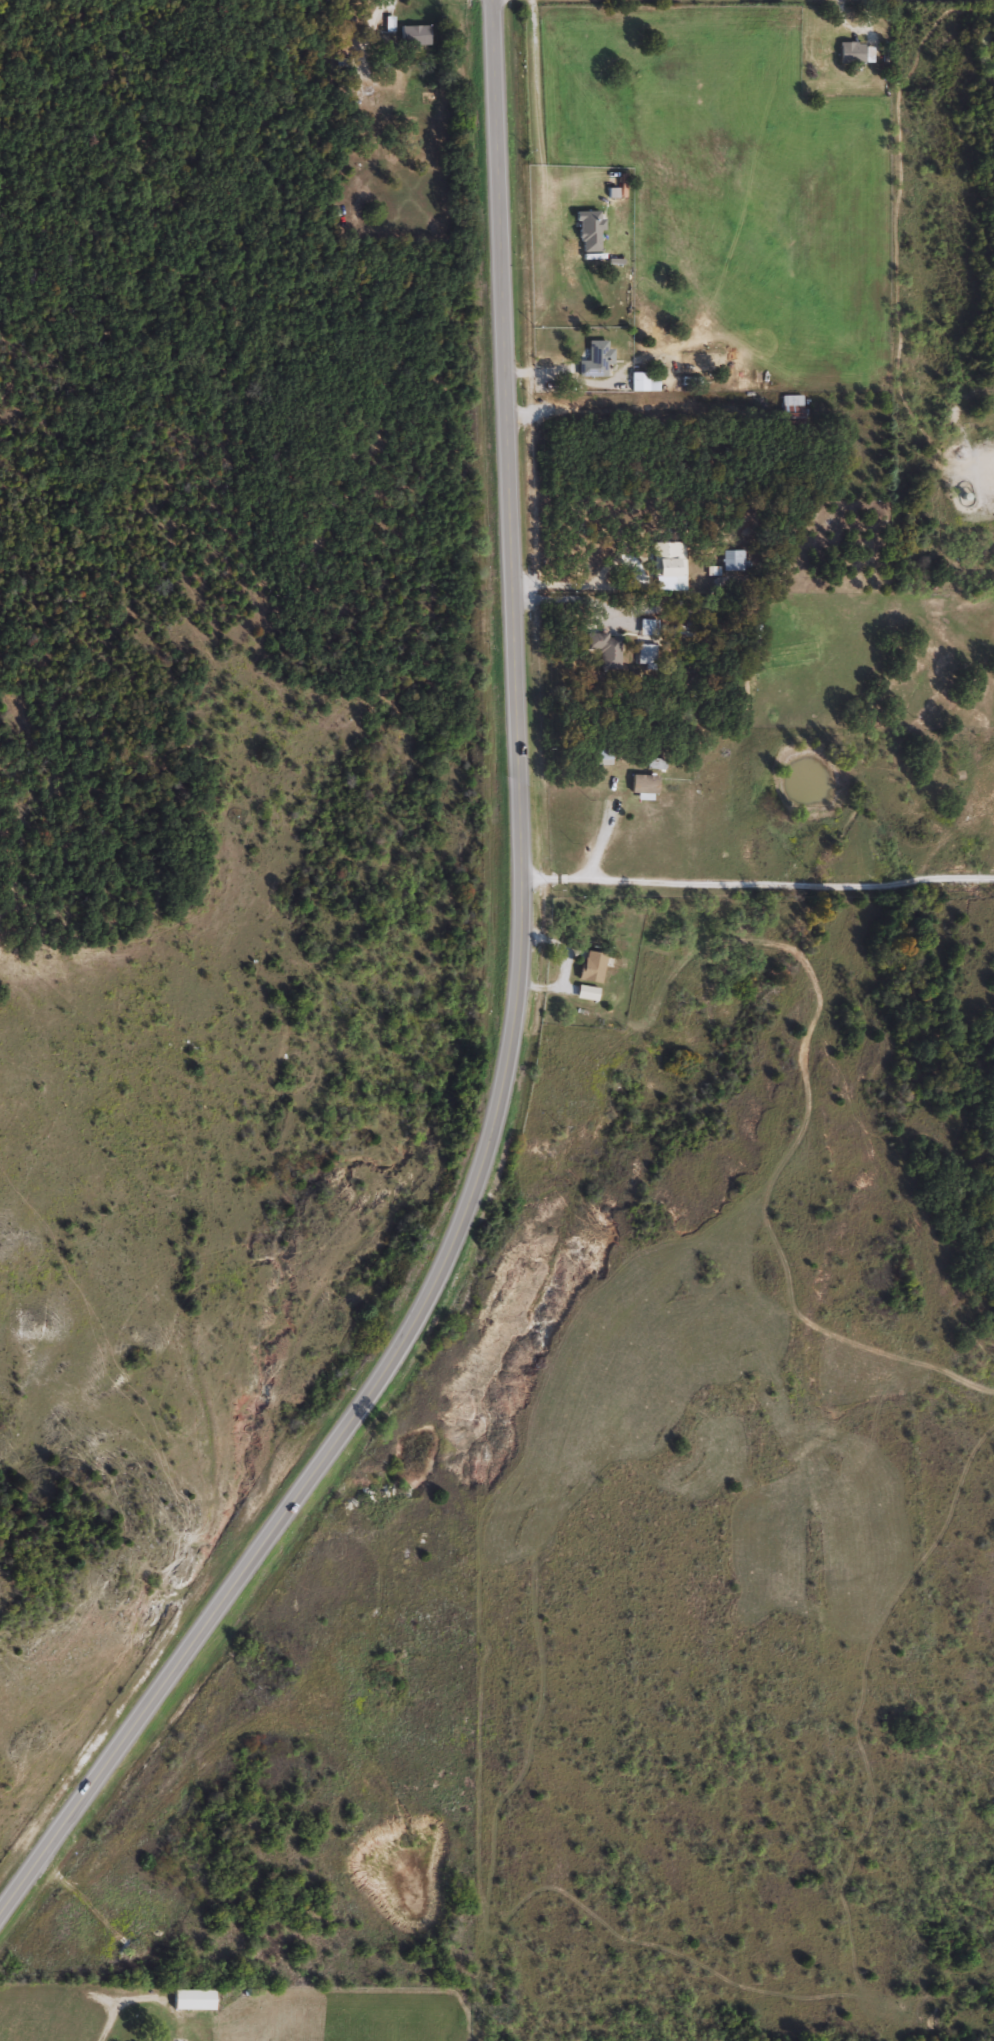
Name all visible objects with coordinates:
building: (412, 34)
building: (849, 52)
building: (595, 359)
building: (643, 381)
building: (788, 408)
building: (729, 558)
building: (666, 564)
building: (646, 627)
building: (683, 628)
building: (749, 634)
building: (605, 648)
building: (645, 652)
building: (601, 756)
building: (642, 783)
road: (756, 885)
building: (591, 965)
building: (585, 992)
road: (512, 1029)
building: (190, 1999)

